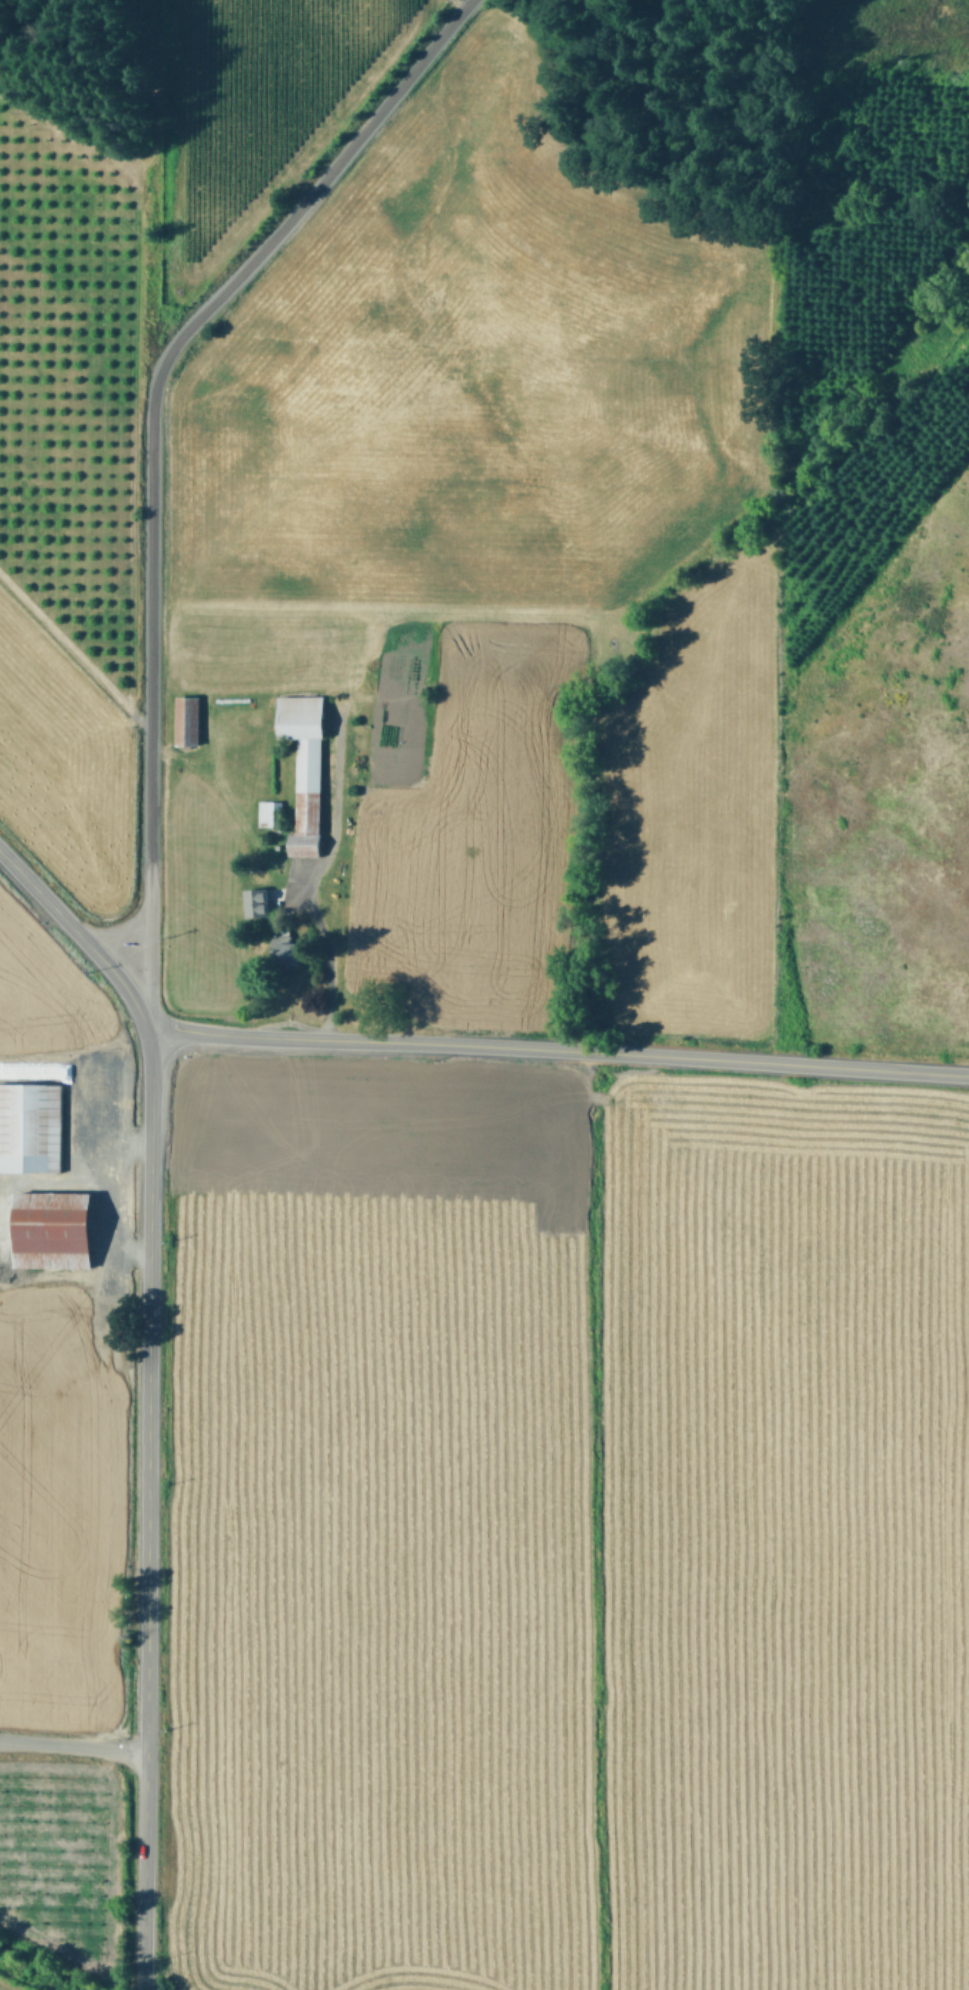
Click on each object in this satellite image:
road: (151, 450)
crop: (566, 620)
building: (189, 719)
crop: (62, 755)
building: (306, 767)
building: (267, 812)
building: (258, 901)
road: (74, 930)
road: (117, 930)
building: (290, 949)
road: (328, 960)
road: (553, 1049)
building: (31, 1126)
building: (55, 1229)
road: (146, 1502)
crop: (474, 1524)
road: (72, 1744)

